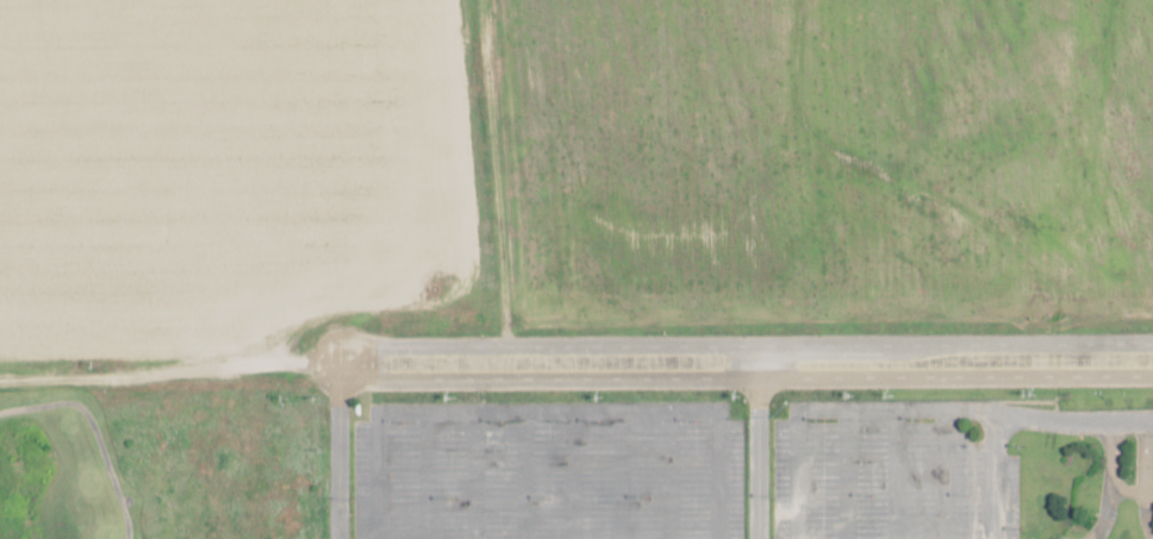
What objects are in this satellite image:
road: (746, 345)
road: (760, 362)
road: (172, 366)
road: (746, 380)
road: (1014, 415)
road: (342, 451)
road: (759, 459)

